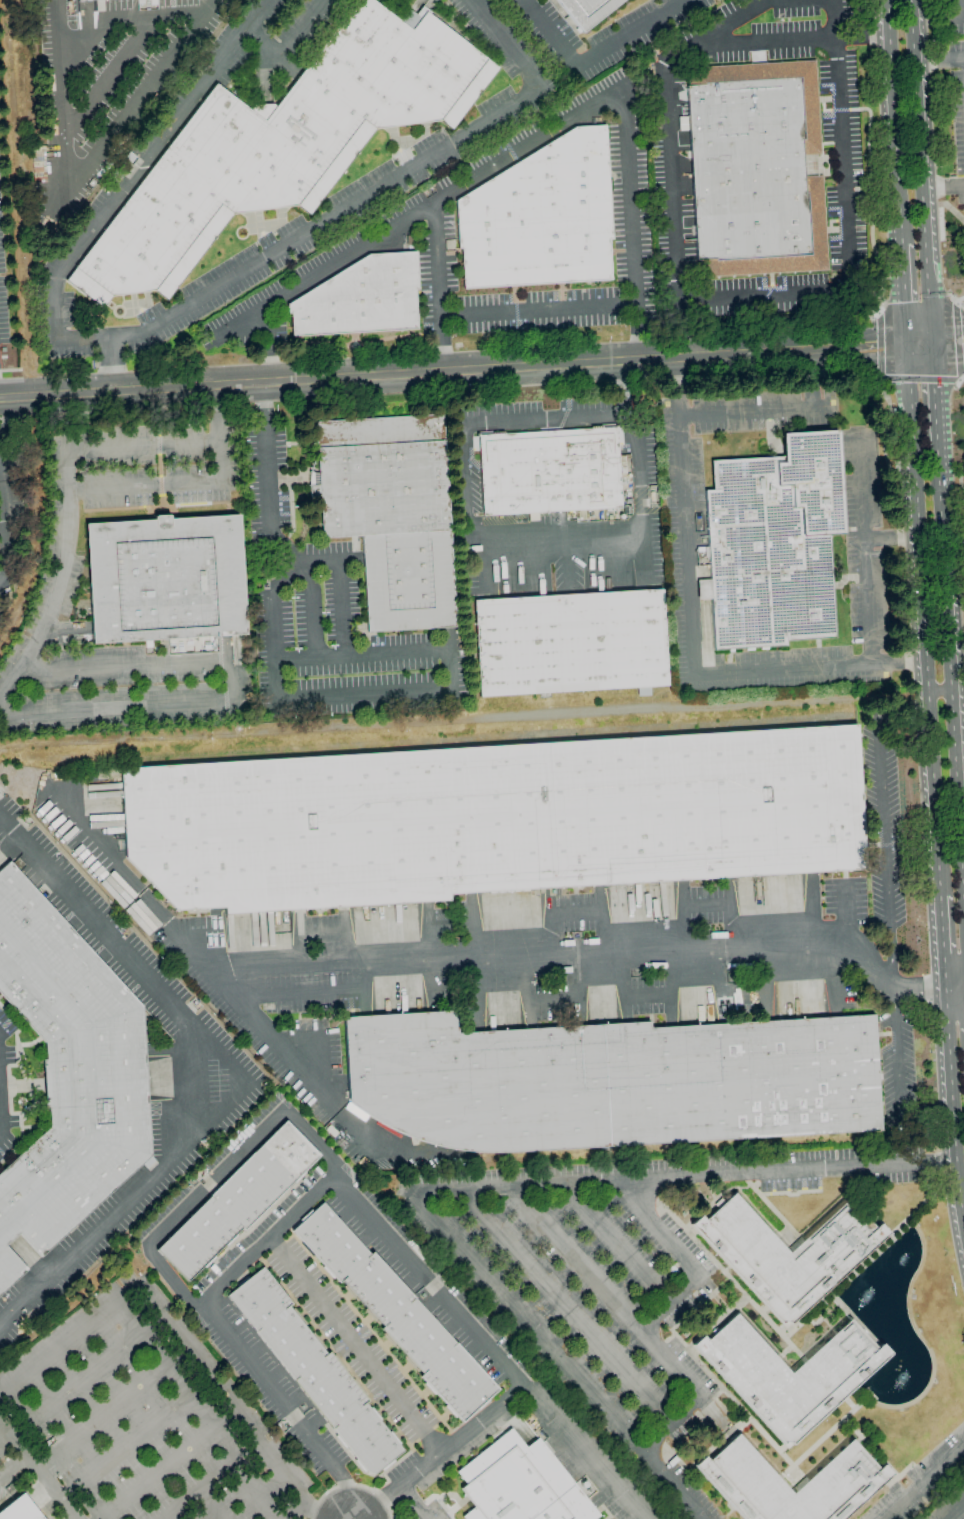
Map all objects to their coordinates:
building: (84, 0)
road: (960, 7)
building: (586, 10)
road: (937, 16)
road: (867, 19)
road: (837, 20)
road: (99, 25)
road: (298, 27)
road: (717, 30)
road: (863, 38)
road: (263, 39)
road: (812, 41)
road: (123, 54)
road: (596, 56)
road: (133, 103)
road: (61, 104)
road: (894, 121)
road: (623, 130)
building: (281, 144)
building: (755, 169)
road: (920, 170)
road: (960, 185)
road: (938, 187)
building: (540, 217)
road: (340, 256)
road: (905, 293)
road: (953, 297)
building: (360, 298)
road: (960, 300)
road: (960, 304)
road: (956, 305)
road: (872, 310)
road: (176, 311)
road: (876, 312)
road: (234, 321)
road: (636, 331)
road: (947, 331)
traffic signals: (931, 341)
road: (919, 342)
traffic signals: (908, 343)
road: (268, 344)
road: (958, 344)
road: (442, 345)
road: (880, 346)
road: (947, 349)
road: (109, 366)
road: (831, 371)
road: (453, 372)
road: (881, 378)
road: (920, 380)
road: (959, 380)
road: (958, 383)
road: (676, 388)
road: (933, 396)
road: (218, 413)
road: (755, 413)
road: (567, 417)
building: (549, 471)
road: (466, 480)
road: (167, 482)
road: (67, 510)
building: (390, 514)
road: (3, 525)
road: (607, 528)
building: (773, 544)
road: (284, 546)
building: (165, 579)
road: (339, 584)
road: (308, 610)
road: (923, 619)
building: (570, 643)
road: (956, 658)
road: (949, 661)
road: (453, 670)
road: (770, 673)
road: (225, 684)
road: (939, 690)
road: (958, 723)
building: (494, 819)
road: (882, 826)
road: (962, 843)
road: (963, 888)
road: (941, 924)
road: (464, 958)
road: (944, 971)
road: (955, 988)
road: (276, 1043)
building: (68, 1074)
road: (191, 1076)
building: (610, 1081)
road: (238, 1090)
road: (897, 1091)
road: (952, 1107)
road: (282, 1113)
railway: (367, 1129)
road: (371, 1147)
road: (684, 1173)
building: (238, 1200)
road: (271, 1234)
road: (617, 1243)
building: (787, 1254)
road: (685, 1257)
road: (566, 1308)
building: (396, 1313)
road: (635, 1321)
road: (356, 1341)
road: (162, 1356)
road: (555, 1357)
building: (314, 1371)
building: (789, 1375)
road: (58, 1398)
road: (98, 1414)
road: (112, 1427)
road: (122, 1443)
road: (439, 1450)
road: (12, 1468)
road: (156, 1473)
road: (35, 1475)
road: (922, 1482)
building: (520, 1484)
building: (841, 1484)
road: (208, 1485)
road: (351, 1485)
road: (413, 1501)
road: (212, 1505)
building: (19, 1509)
road: (956, 1512)
road: (169, 1518)

